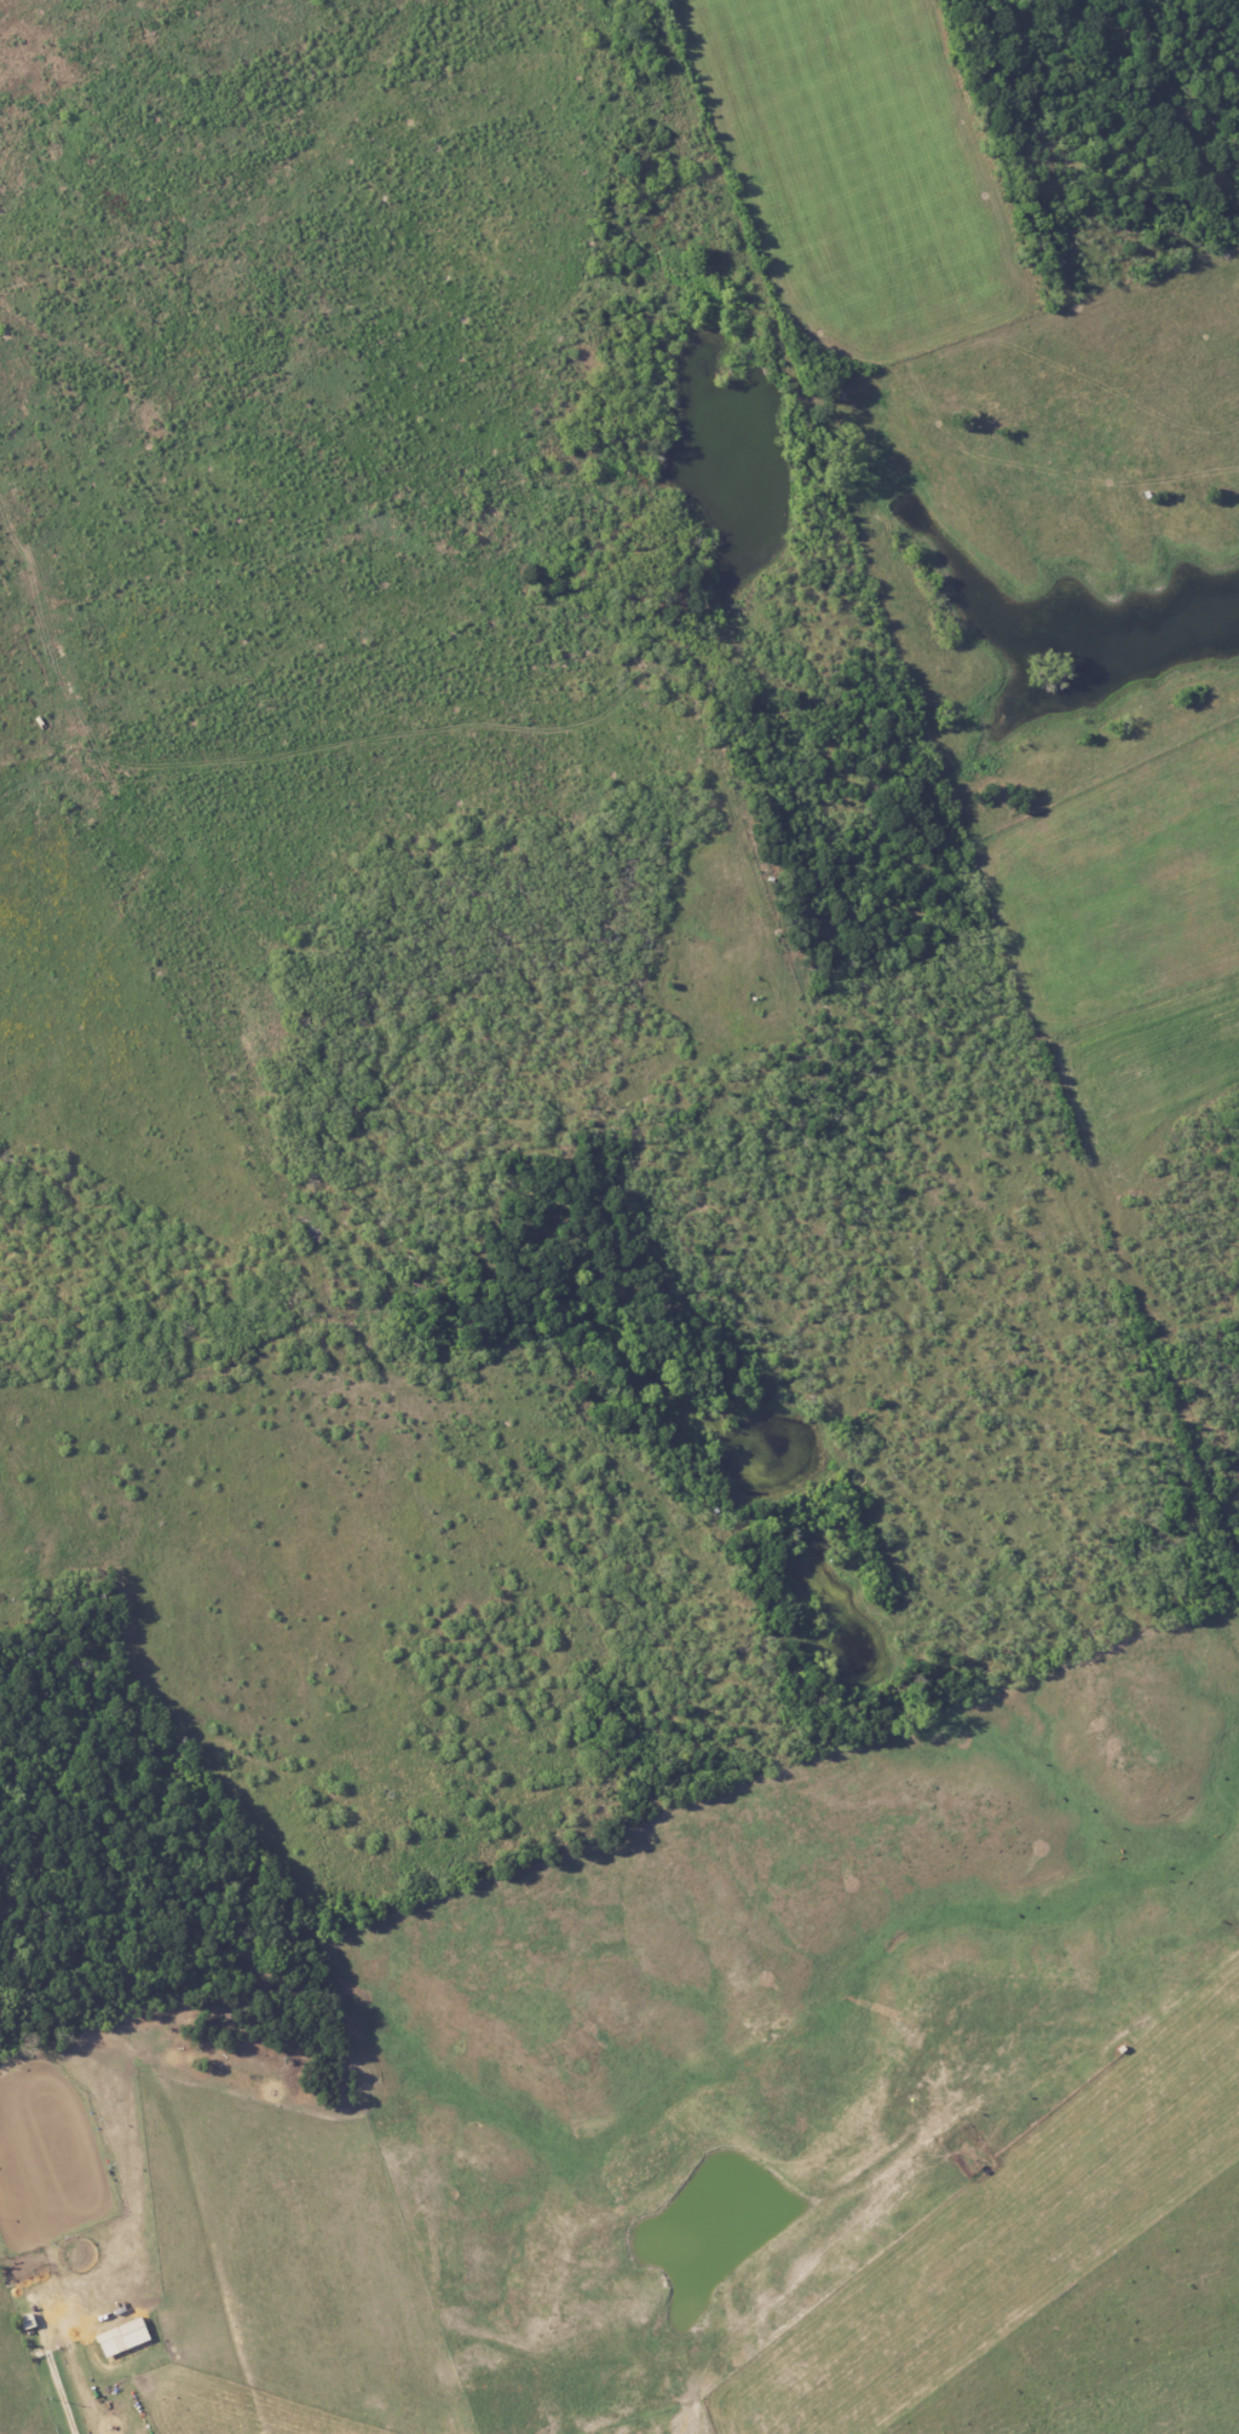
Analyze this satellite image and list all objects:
road: (62, 2395)

